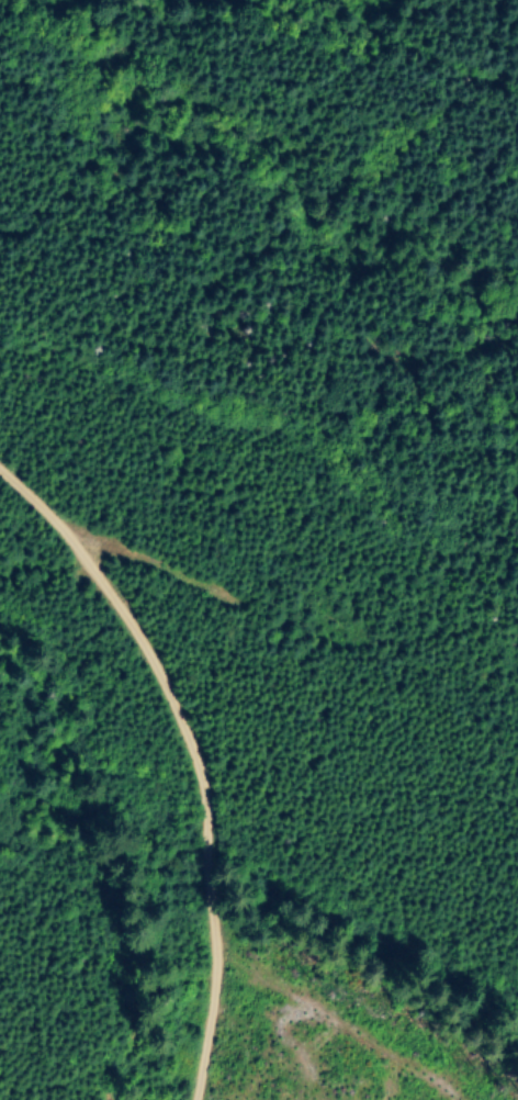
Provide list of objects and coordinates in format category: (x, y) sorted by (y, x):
road: (404, 44)
road: (221, 729)

